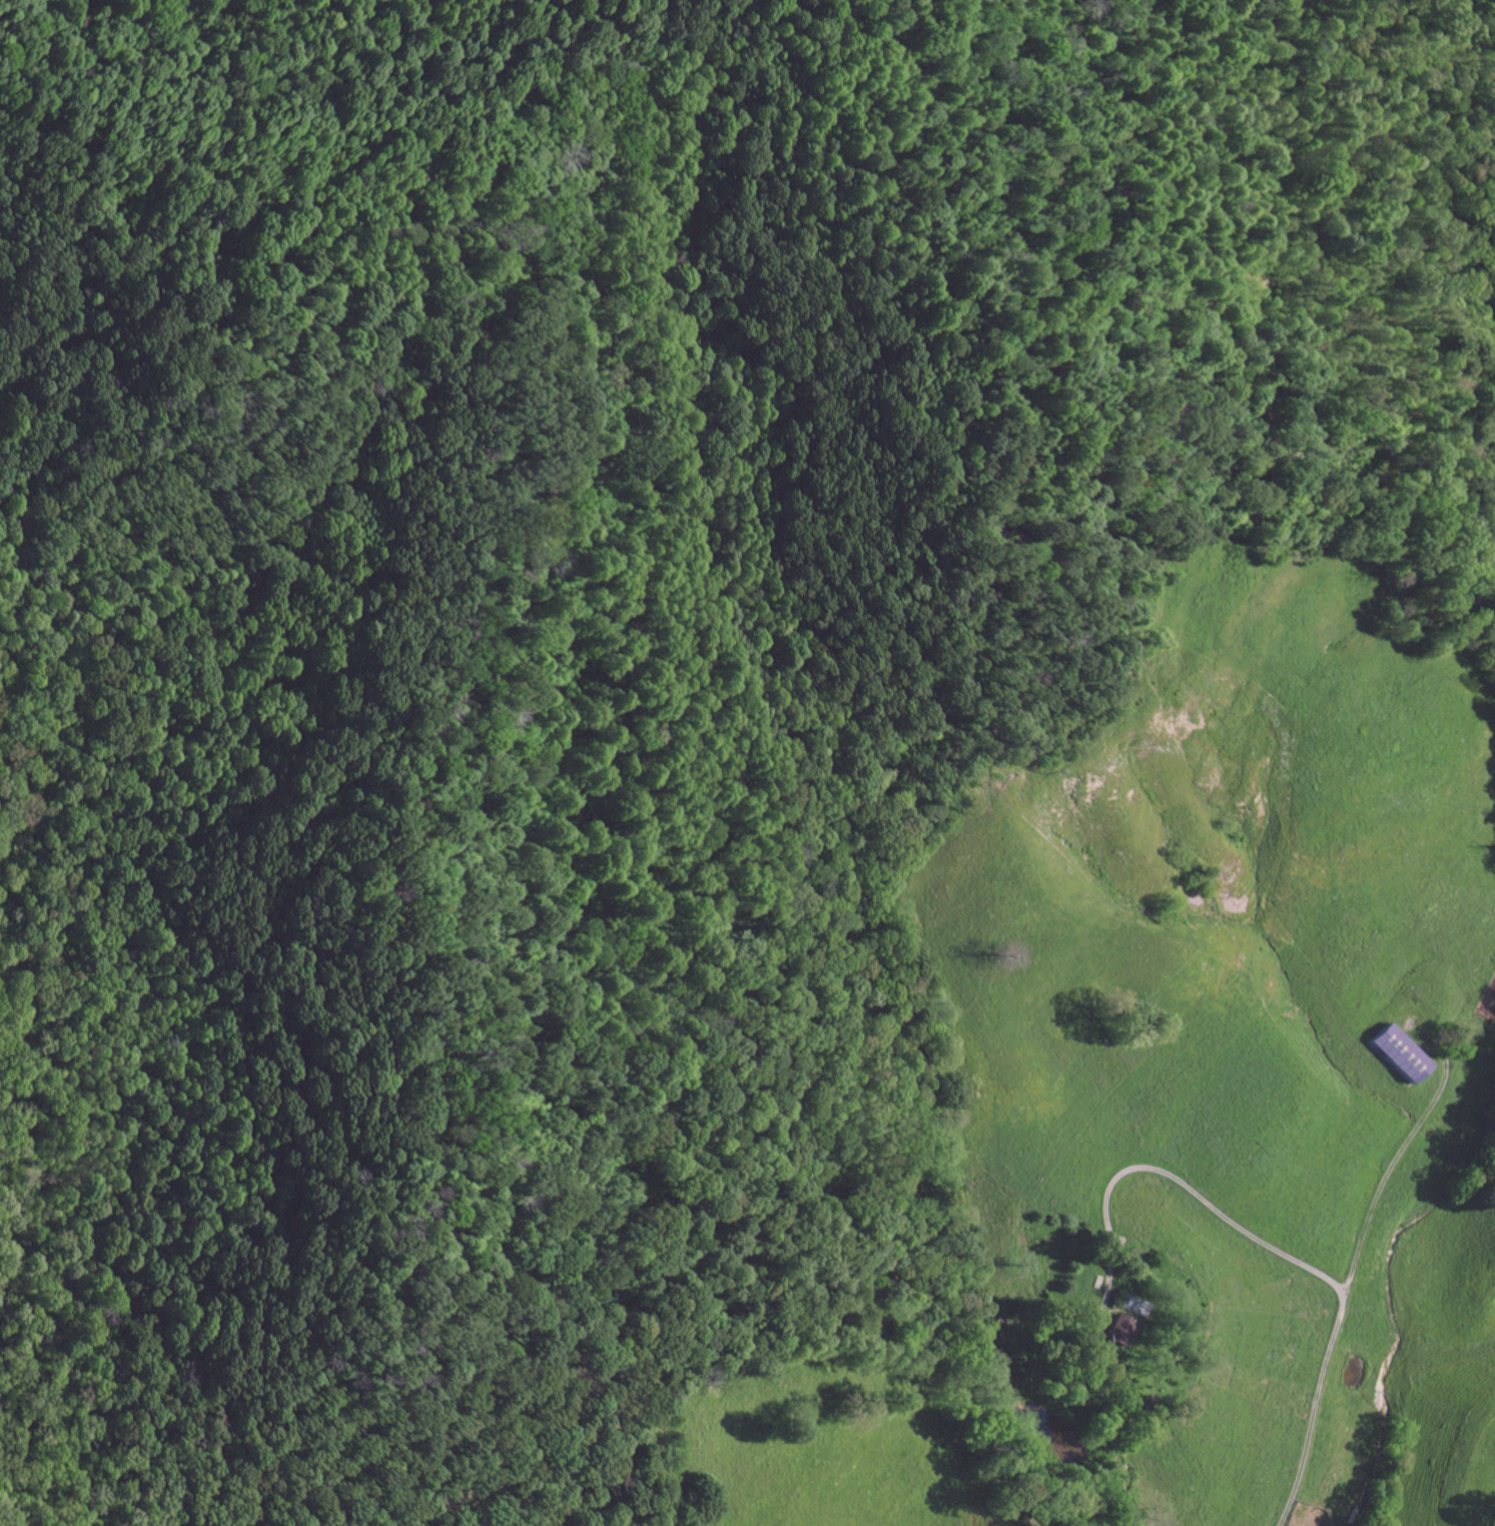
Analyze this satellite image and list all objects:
building: (1392, 1054)
building: (1101, 1330)

